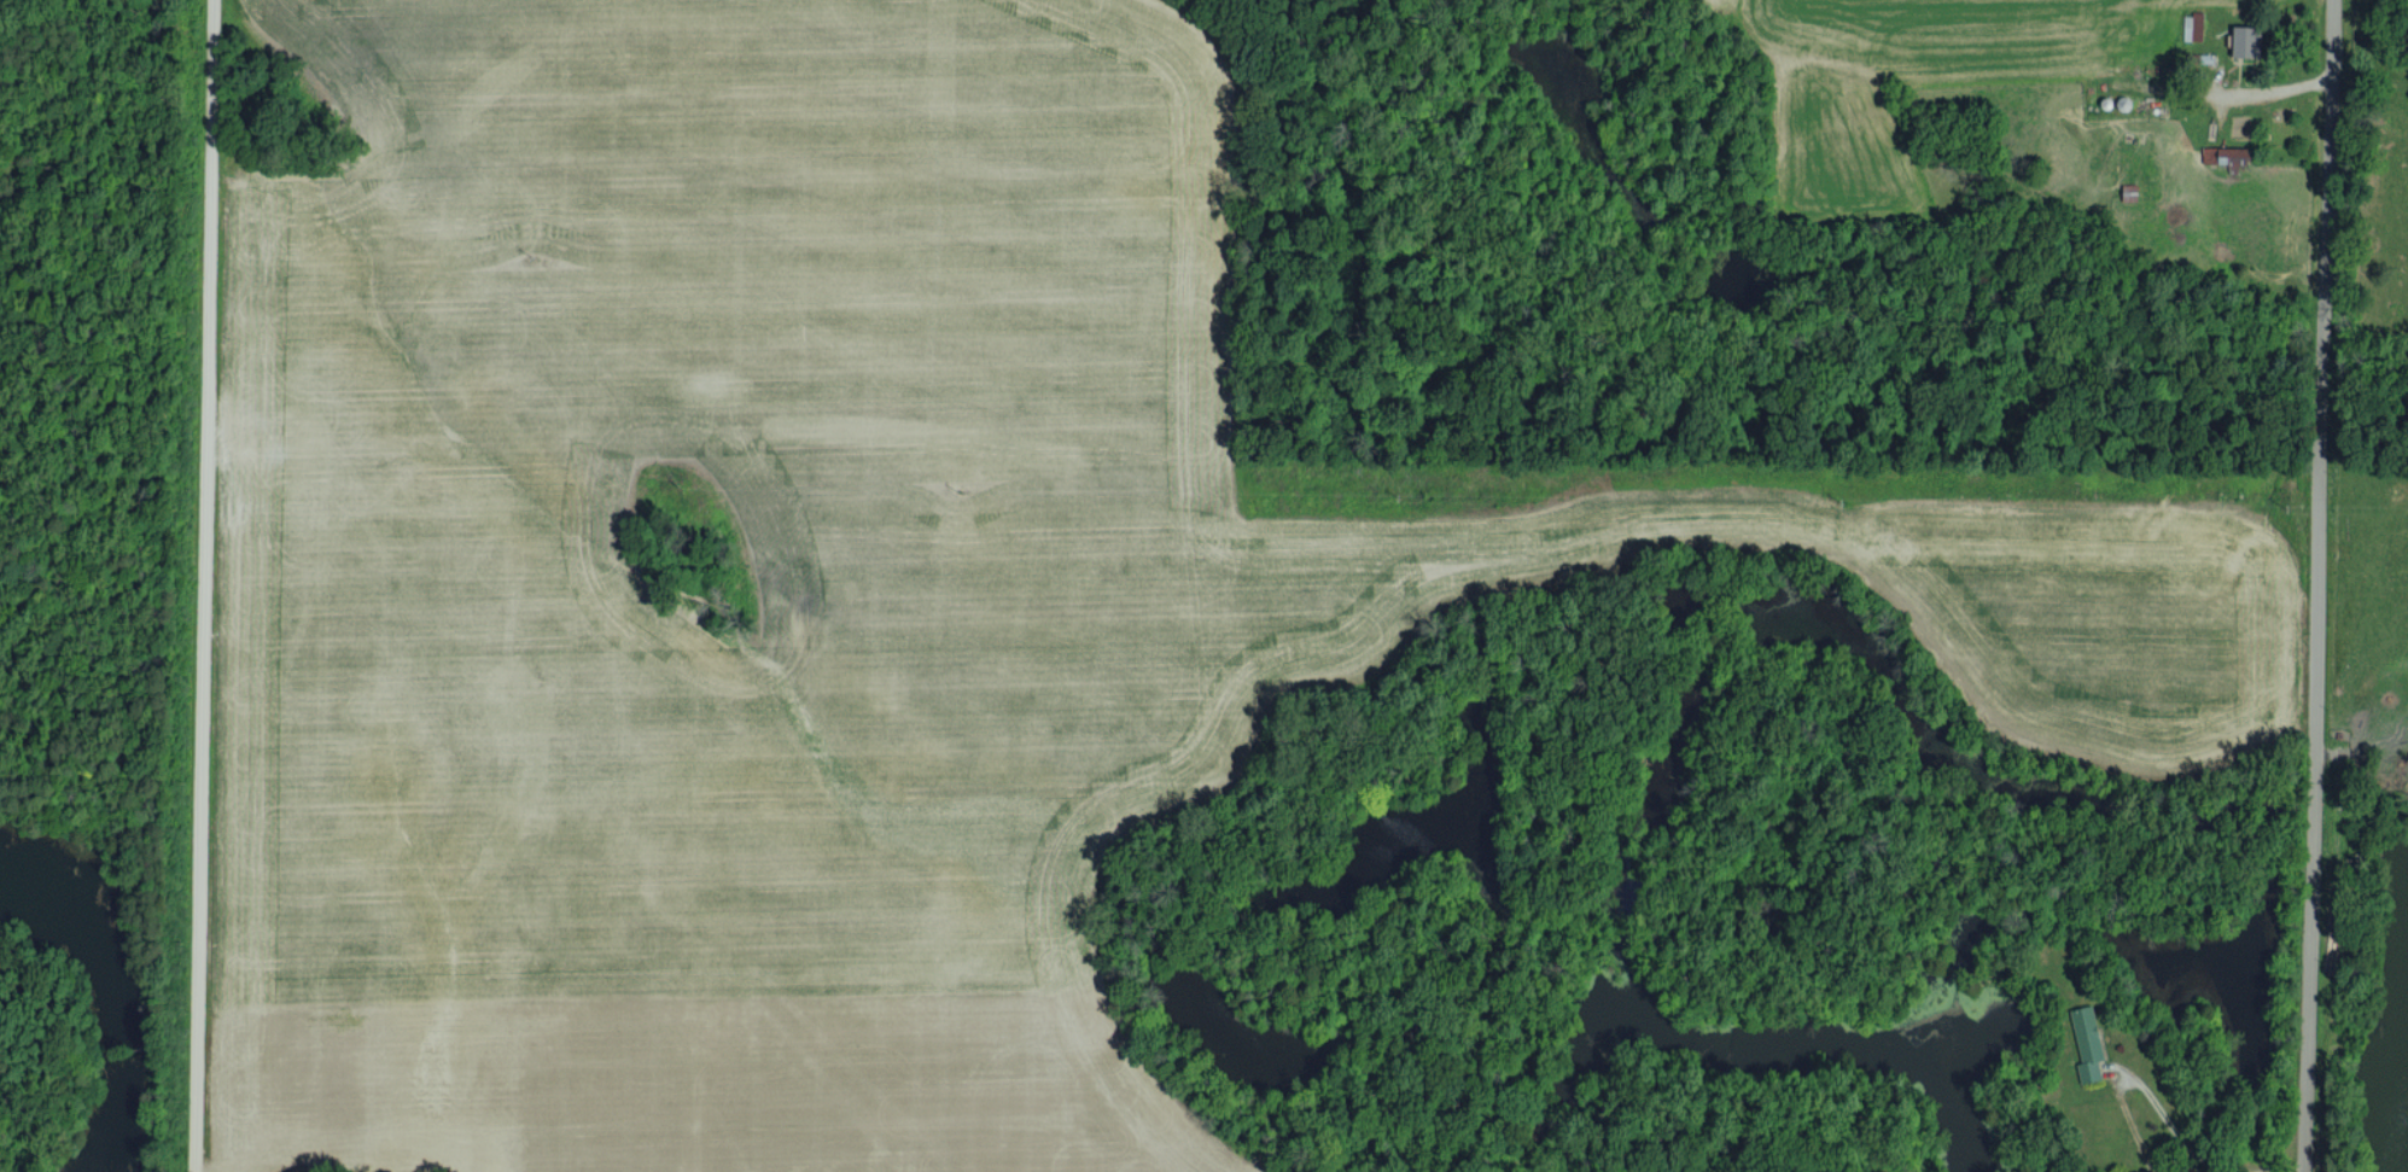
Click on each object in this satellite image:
building: (2250, 40)
building: (2229, 156)
road: (202, 585)
road: (2307, 585)
building: (2089, 1043)
road: (2130, 1123)
road: (2188, 1141)
road: (2246, 1171)

